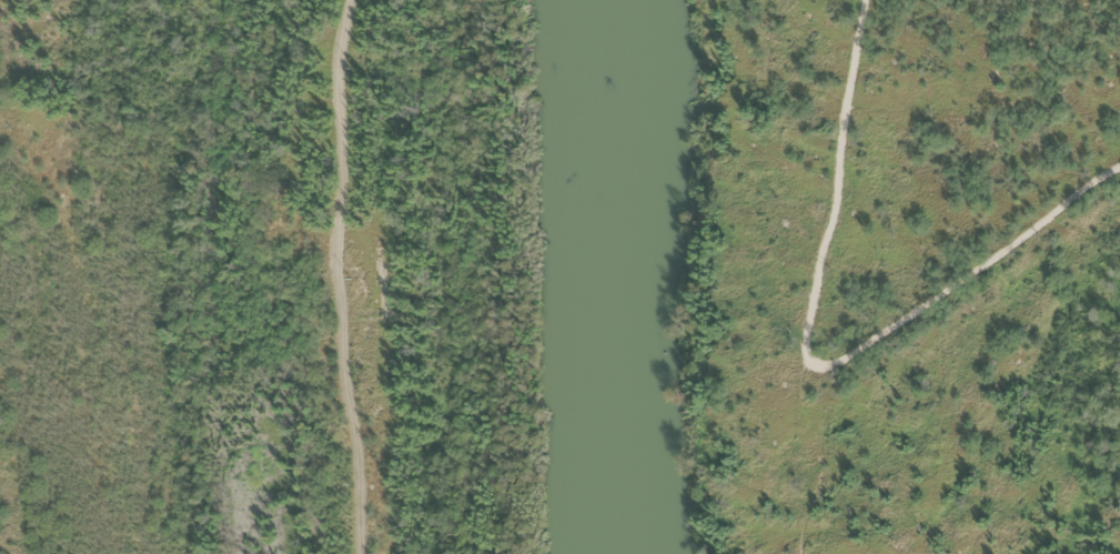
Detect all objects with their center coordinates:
river: (612, 275)

